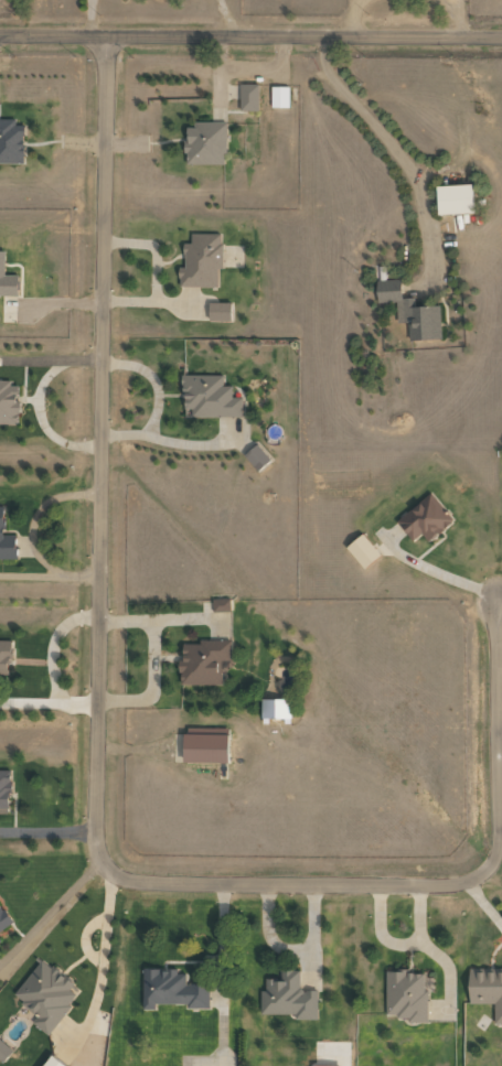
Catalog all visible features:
road: (250, 34)
building: (279, 96)
building: (248, 97)
building: (11, 142)
building: (205, 143)
building: (453, 198)
building: (202, 261)
building: (7, 279)
building: (220, 311)
building: (410, 311)
building: (210, 397)
building: (9, 402)
building: (256, 457)
building: (425, 518)
building: (6, 540)
building: (363, 550)
building: (222, 605)
building: (4, 656)
building: (203, 661)
building: (276, 708)
building: (205, 744)
road: (95, 780)
building: (4, 789)
building: (171, 989)
building: (487, 989)
building: (406, 994)
building: (46, 995)
building: (288, 997)
building: (3, 1051)
building: (53, 1062)
building: (317, 1065)

